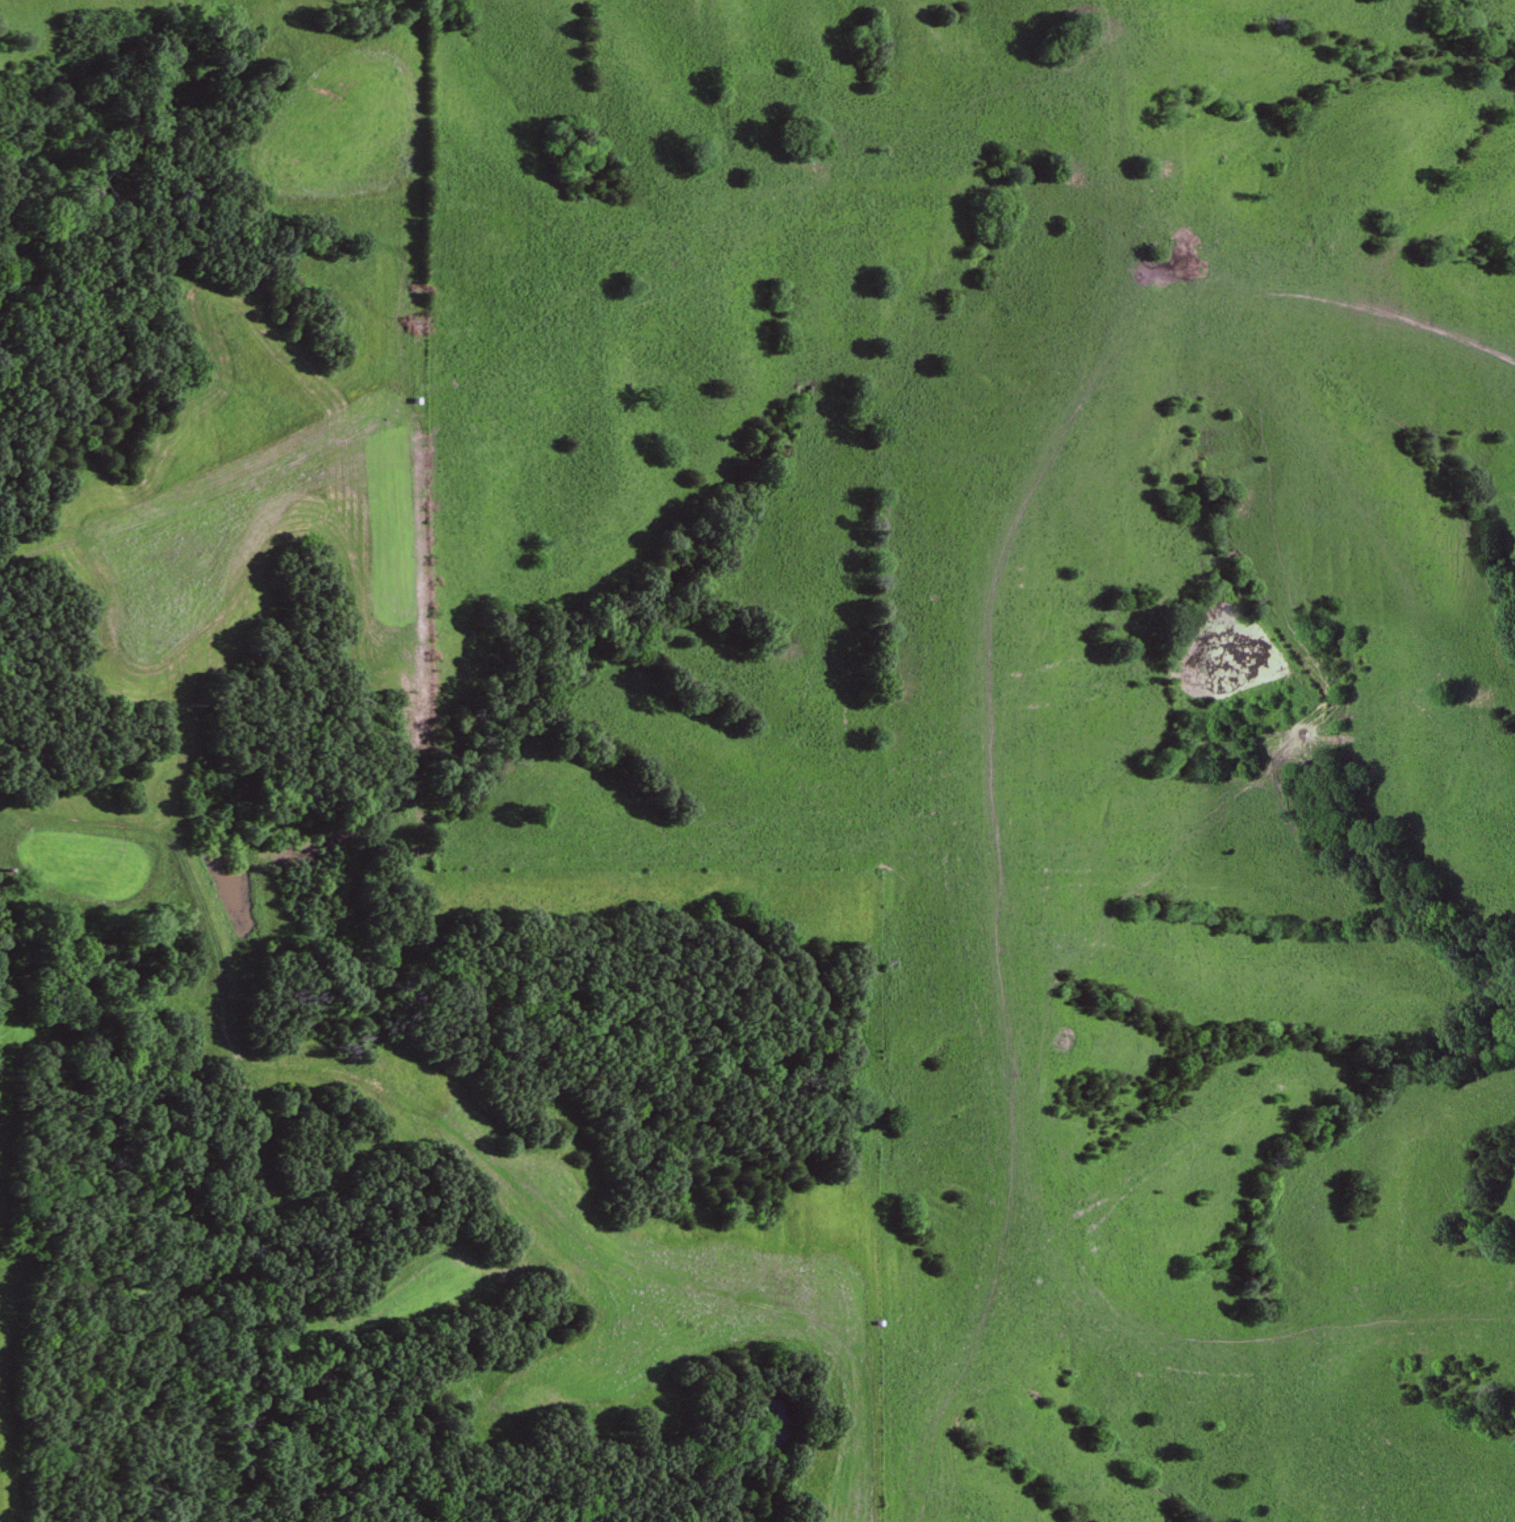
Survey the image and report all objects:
road: (1283, 399)

